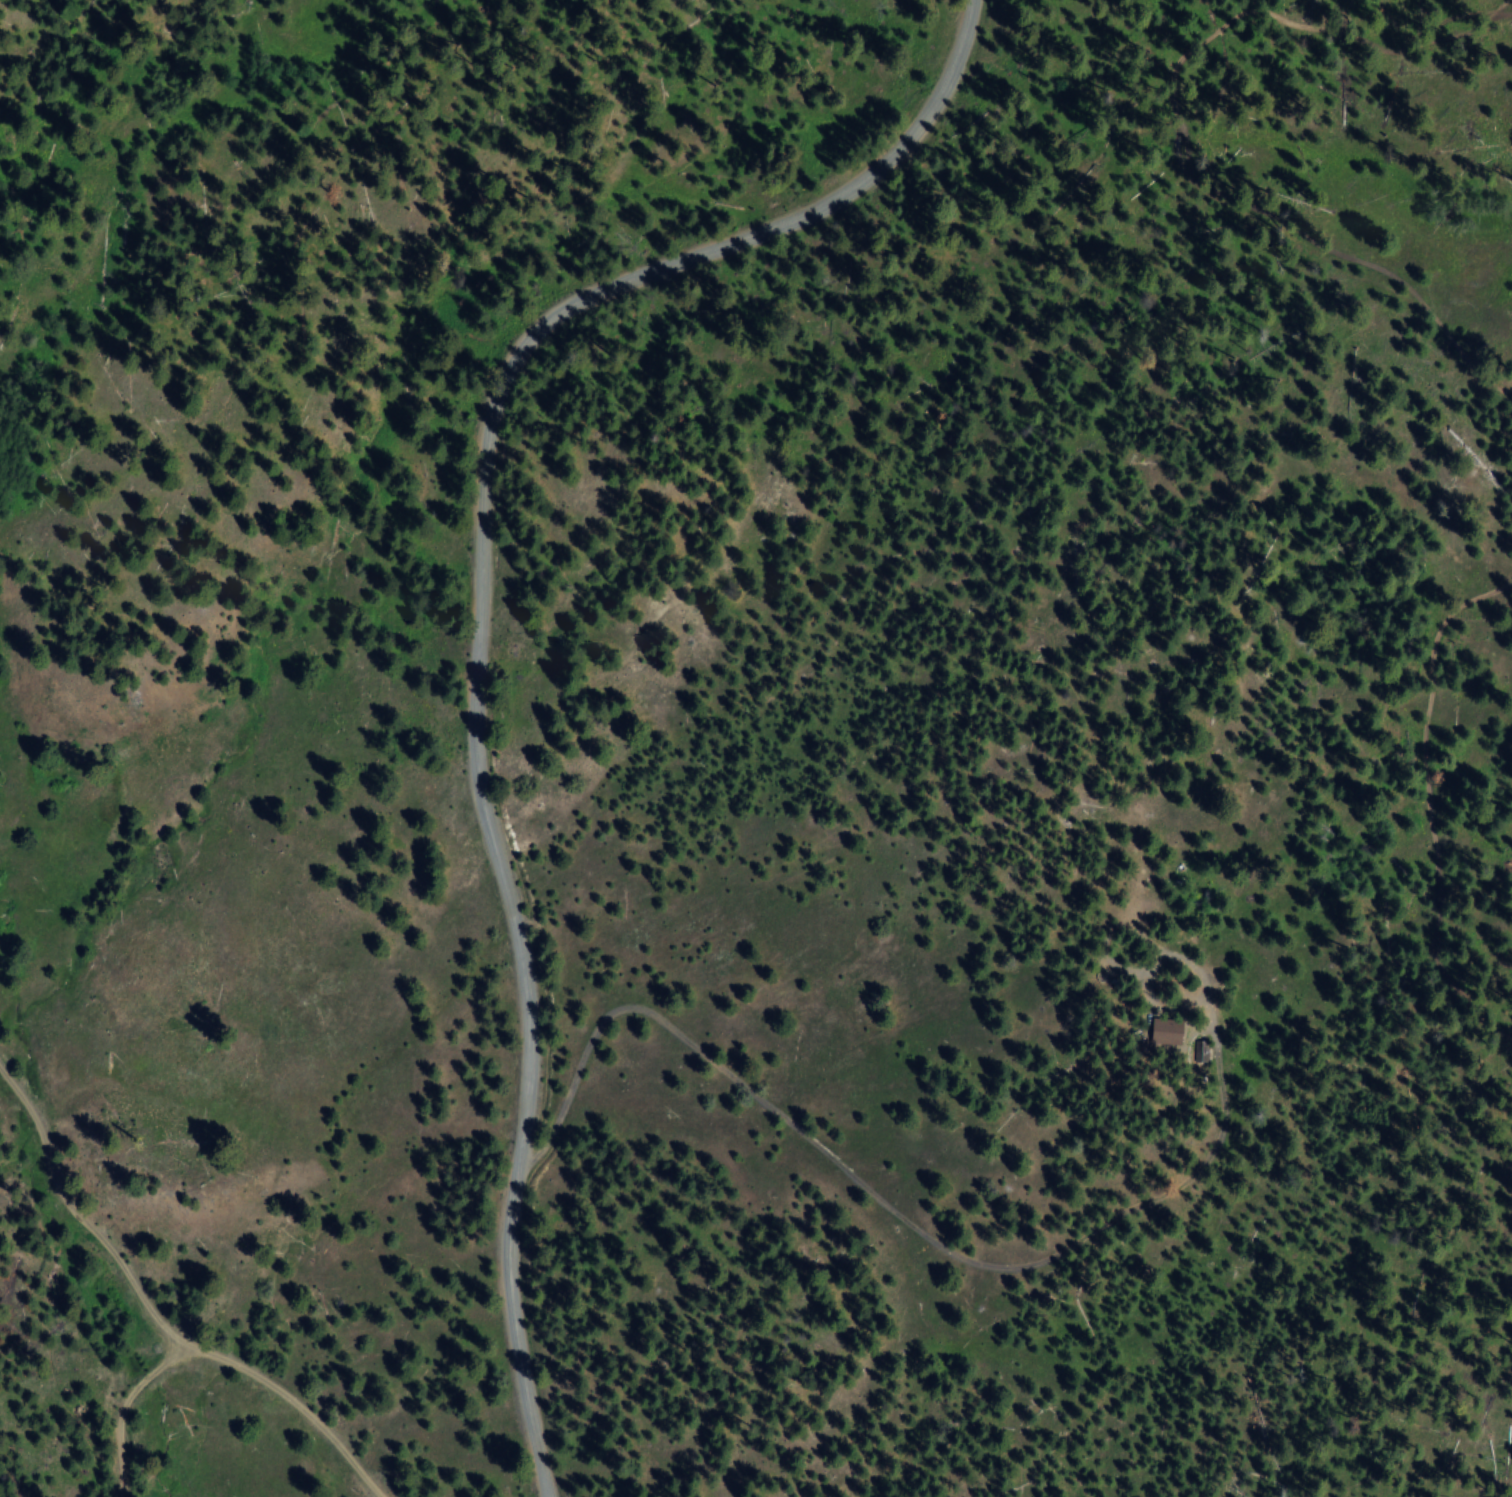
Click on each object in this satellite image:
road: (474, 623)
building: (1168, 1032)

